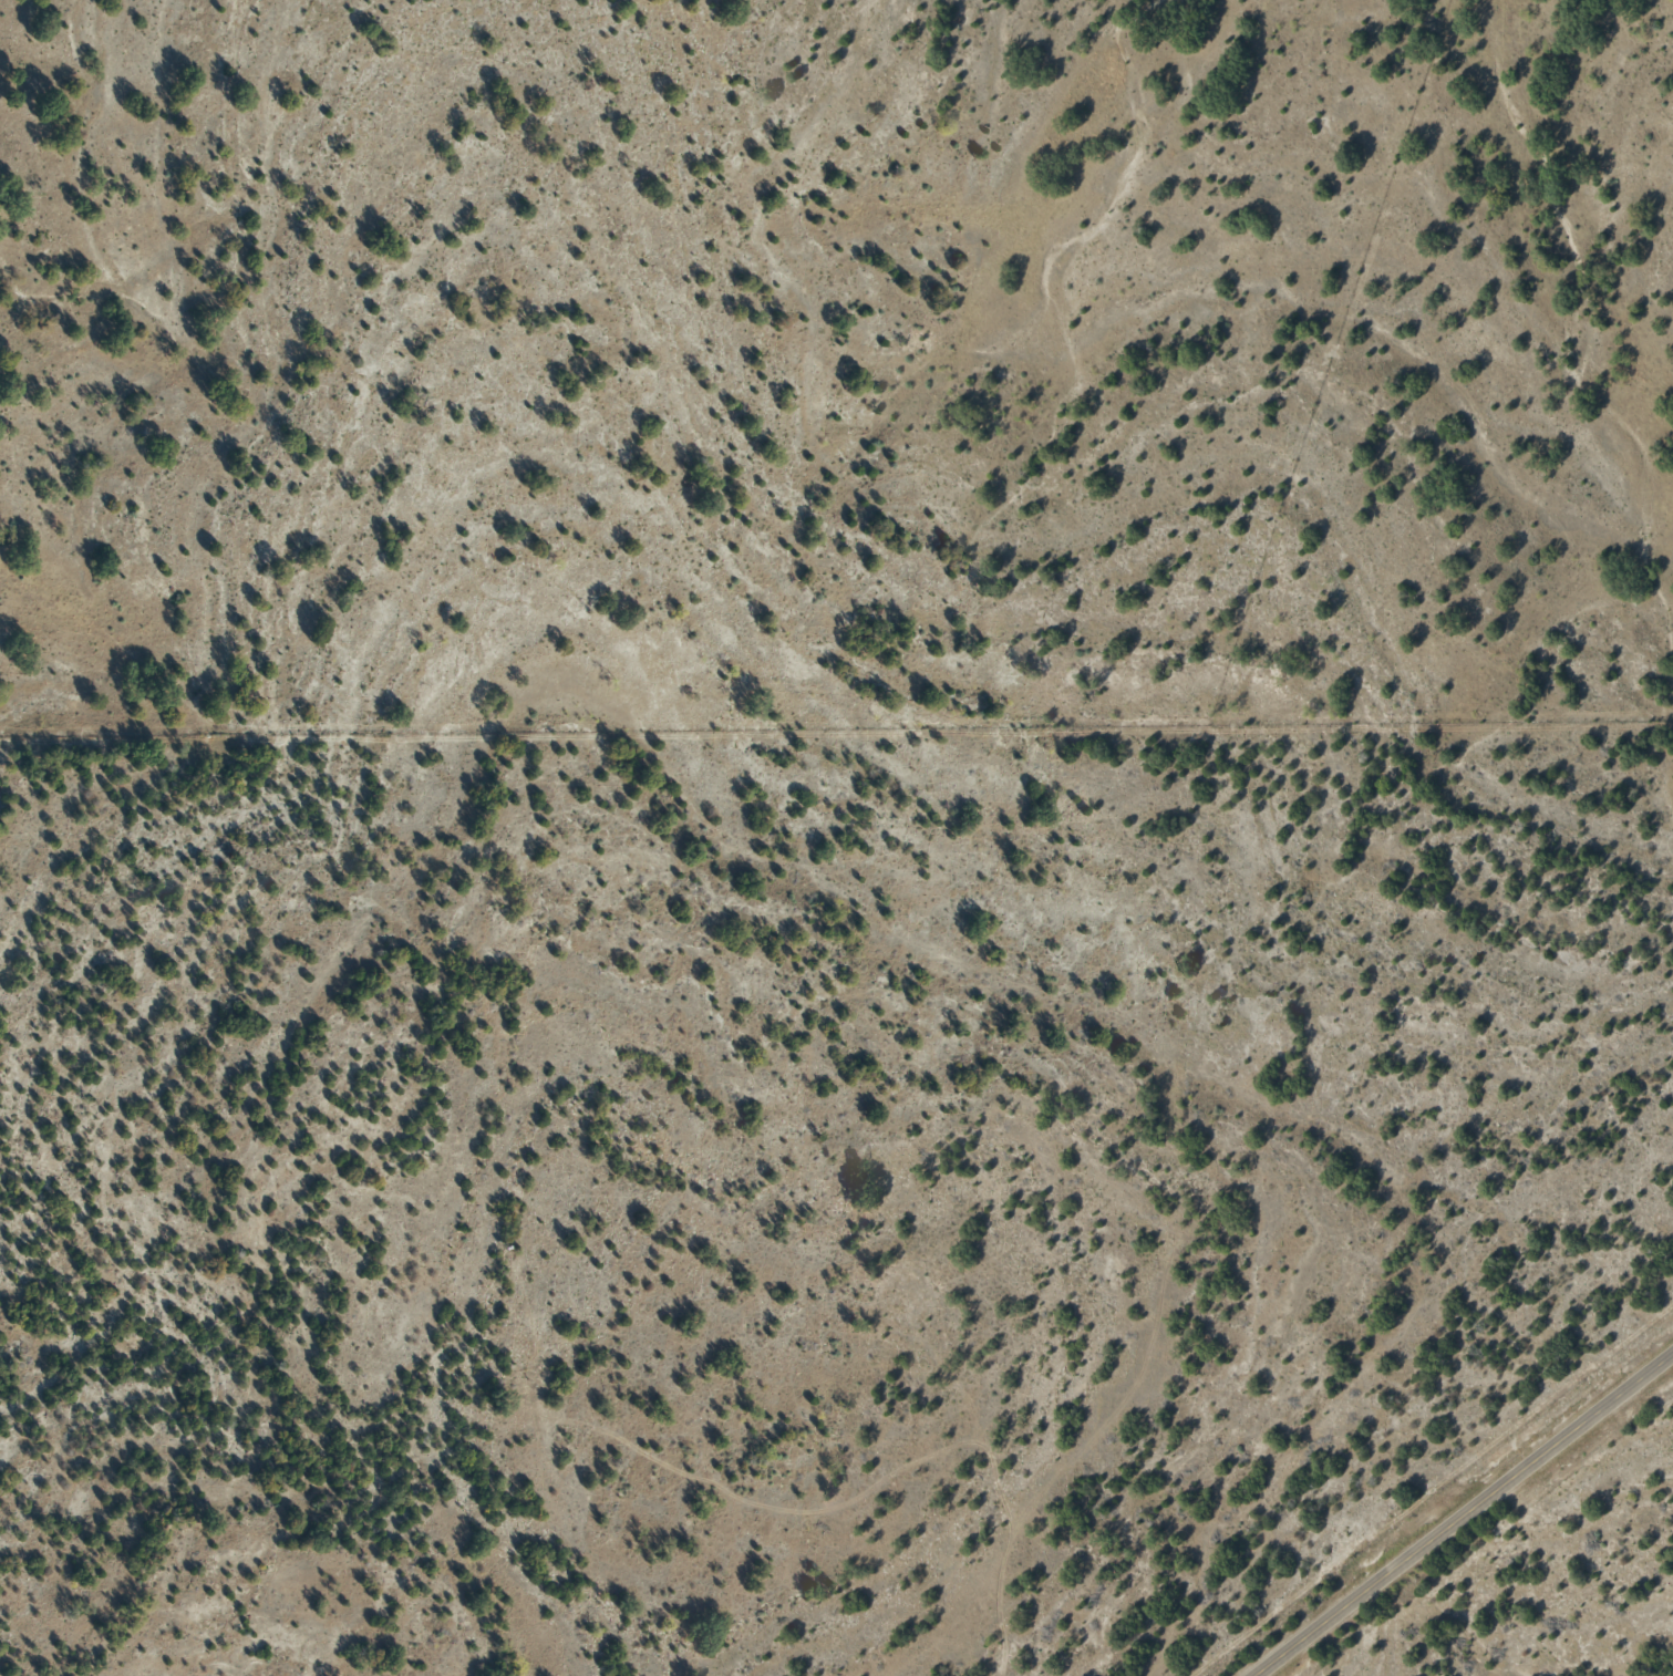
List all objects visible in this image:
road: (1467, 1517)

